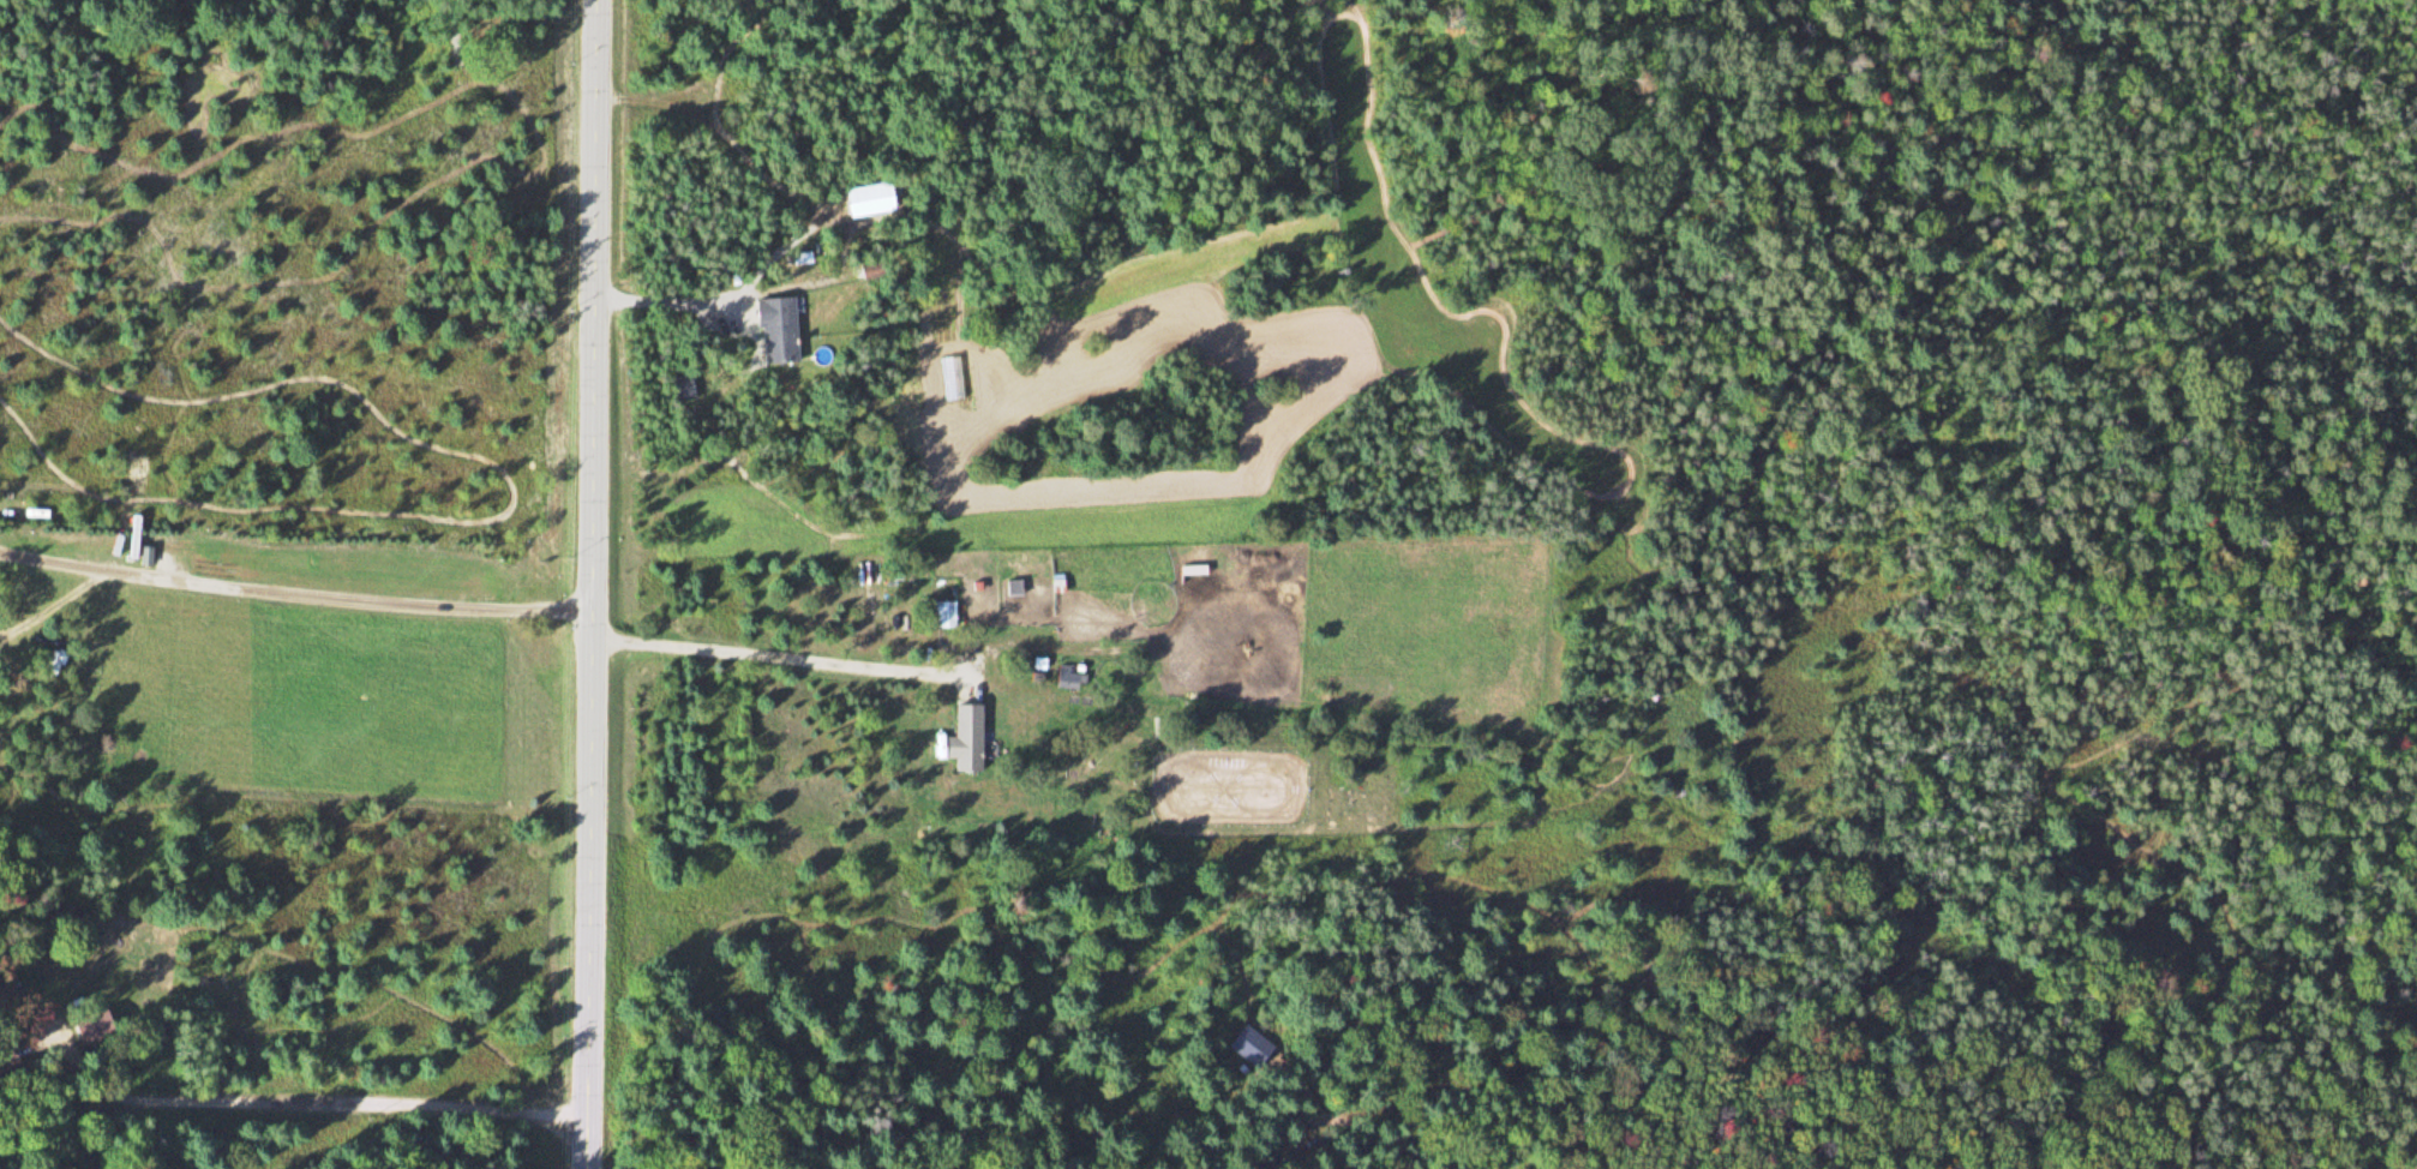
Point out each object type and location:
building: (866, 198)
building: (775, 329)
building: (684, 386)
building: (146, 556)
building: (1194, 569)
road: (593, 584)
building: (966, 738)
building: (86, 1023)

